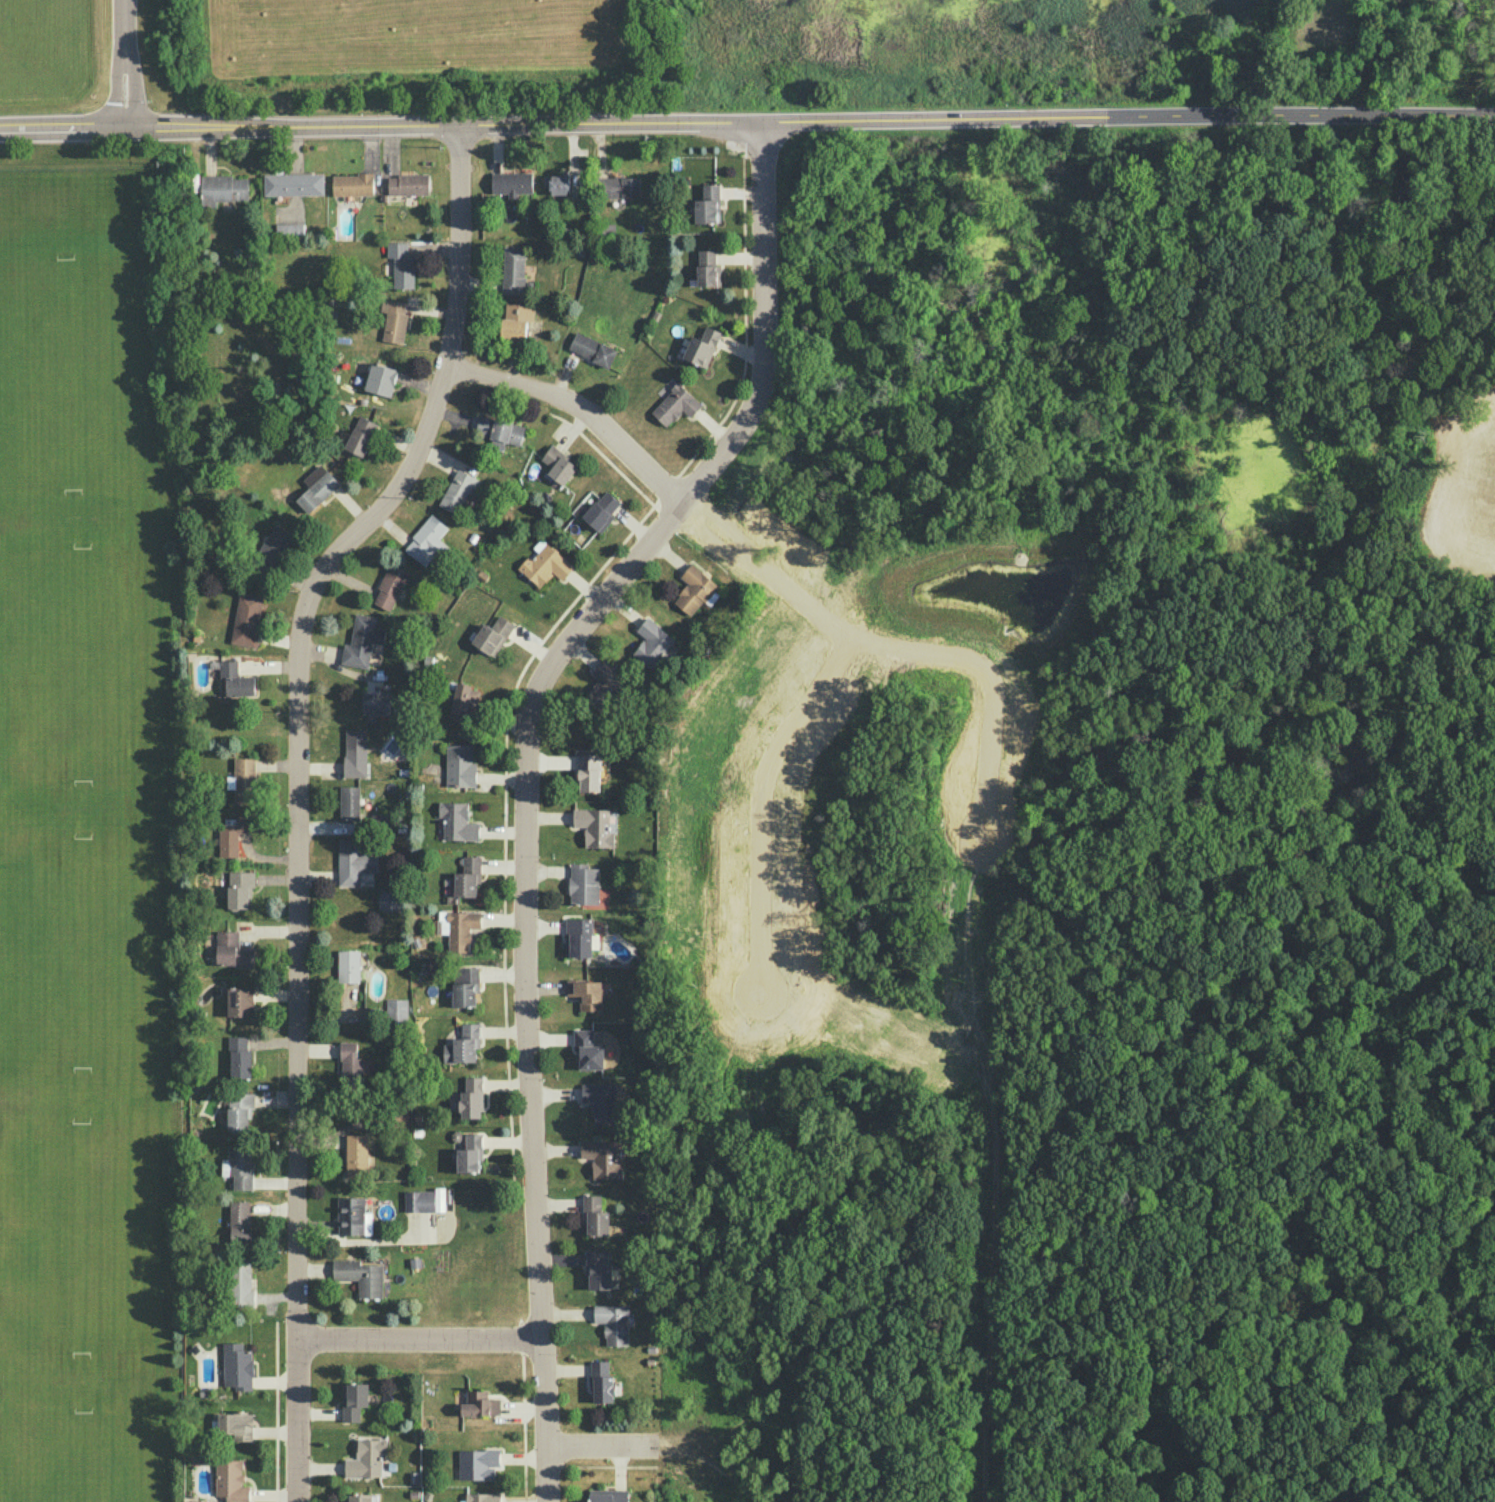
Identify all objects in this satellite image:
road: (126, 66)
road: (1343, 119)
road: (595, 123)
building: (511, 183)
building: (557, 183)
building: (293, 184)
building: (352, 184)
building: (408, 184)
building: (619, 186)
building: (223, 189)
building: (707, 205)
building: (289, 229)
building: (401, 263)
building: (707, 268)
building: (513, 270)
building: (393, 320)
building: (516, 322)
building: (702, 346)
building: (592, 349)
park: (72, 376)
building: (380, 379)
building: (675, 404)
road: (580, 408)
building: (499, 431)
building: (360, 435)
building: (558, 464)
building: (316, 487)
building: (457, 490)
building: (601, 511)
building: (427, 541)
building: (270, 552)
building: (545, 565)
building: (390, 585)
building: (694, 589)
building: (246, 619)
building: (492, 635)
building: (362, 641)
building: (654, 645)
park: (81, 665)
building: (235, 679)
building: (605, 685)
building: (463, 701)
building: (375, 702)
building: (355, 753)
building: (459, 766)
building: (588, 771)
road: (524, 772)
building: (244, 779)
road: (300, 789)
building: (349, 802)
building: (456, 821)
building: (594, 827)
building: (233, 835)
building: (352, 862)
building: (467, 877)
building: (583, 884)
building: (240, 888)
building: (389, 900)
building: (461, 929)
building: (578, 937)
building: (232, 950)
park: (83, 954)
building: (348, 965)
building: (465, 986)
building: (585, 993)
building: (240, 1001)
building: (395, 1010)
building: (348, 1014)
building: (463, 1044)
building: (587, 1050)
building: (239, 1056)
building: (350, 1064)
building: (471, 1098)
building: (600, 1101)
building: (239, 1110)
building: (470, 1152)
building: (356, 1153)
building: (602, 1158)
building: (241, 1168)
building: (419, 1200)
building: (351, 1215)
building: (595, 1216)
building: (240, 1221)
road: (366, 1239)
park: (79, 1240)
building: (598, 1269)
building: (360, 1276)
building: (241, 1283)
building: (613, 1322)
road: (419, 1339)
building: (237, 1366)
building: (601, 1382)
building: (353, 1400)
building: (479, 1404)
building: (236, 1424)
road: (616, 1448)
park: (81, 1456)
building: (366, 1458)
building: (475, 1462)
building: (231, 1481)
building: (607, 1495)
building: (357, 1497)
building: (481, 1497)

